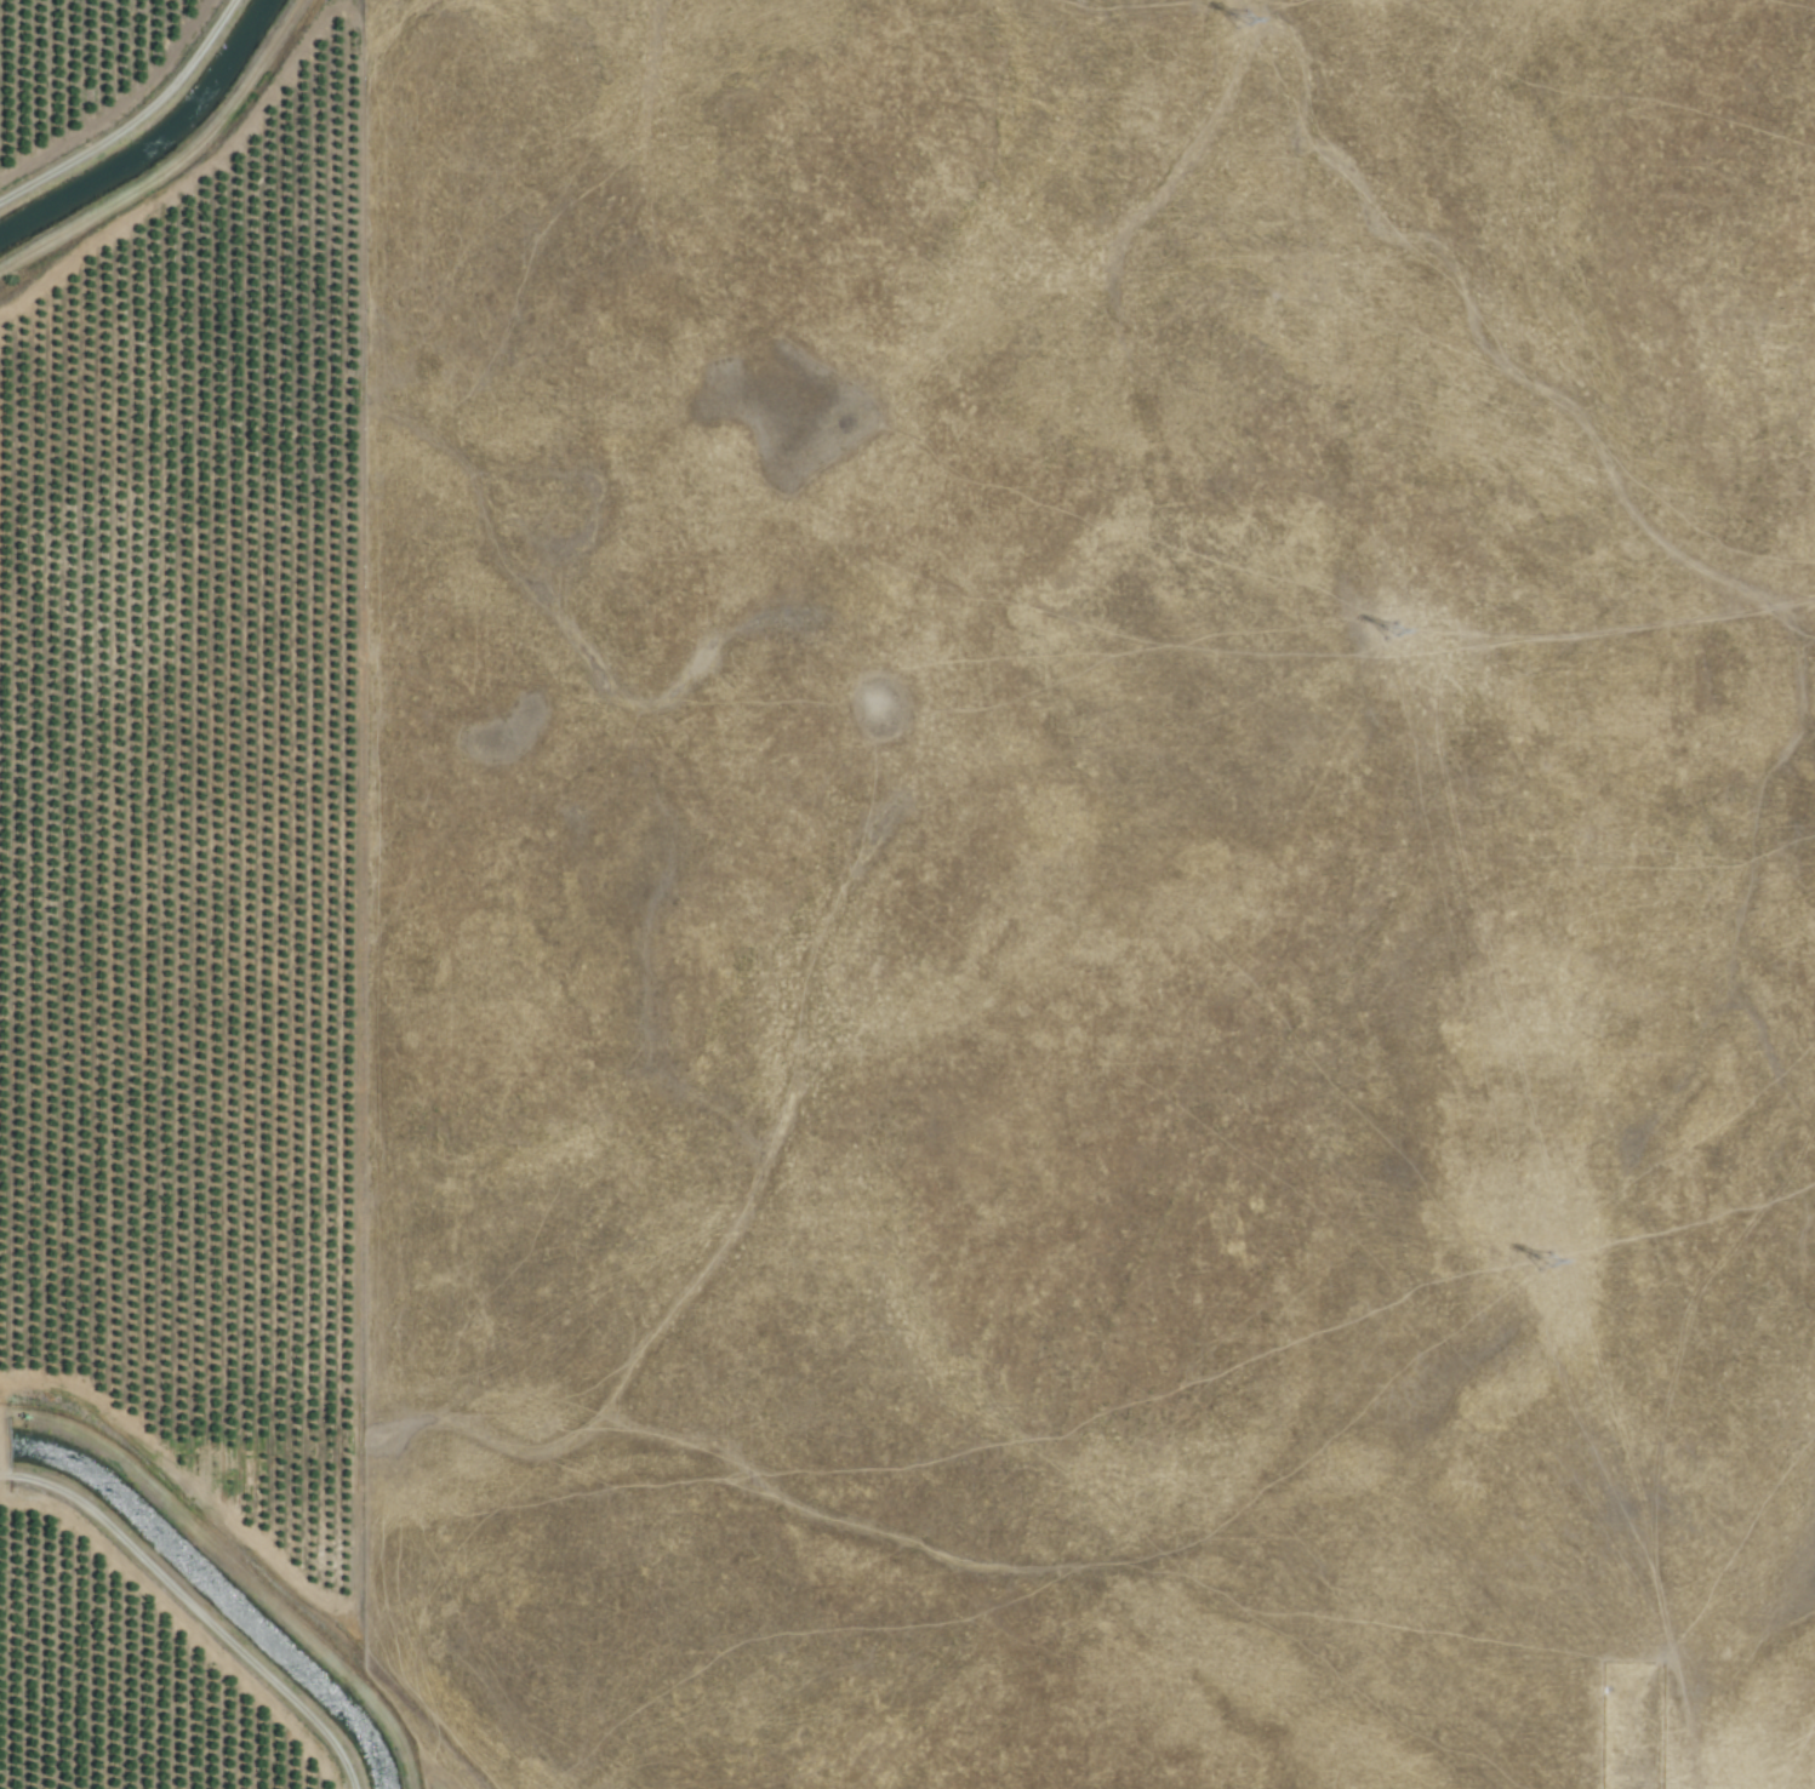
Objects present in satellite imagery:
power tower: (1239, 21)
power tower: (1388, 630)
power tower: (1542, 1263)

